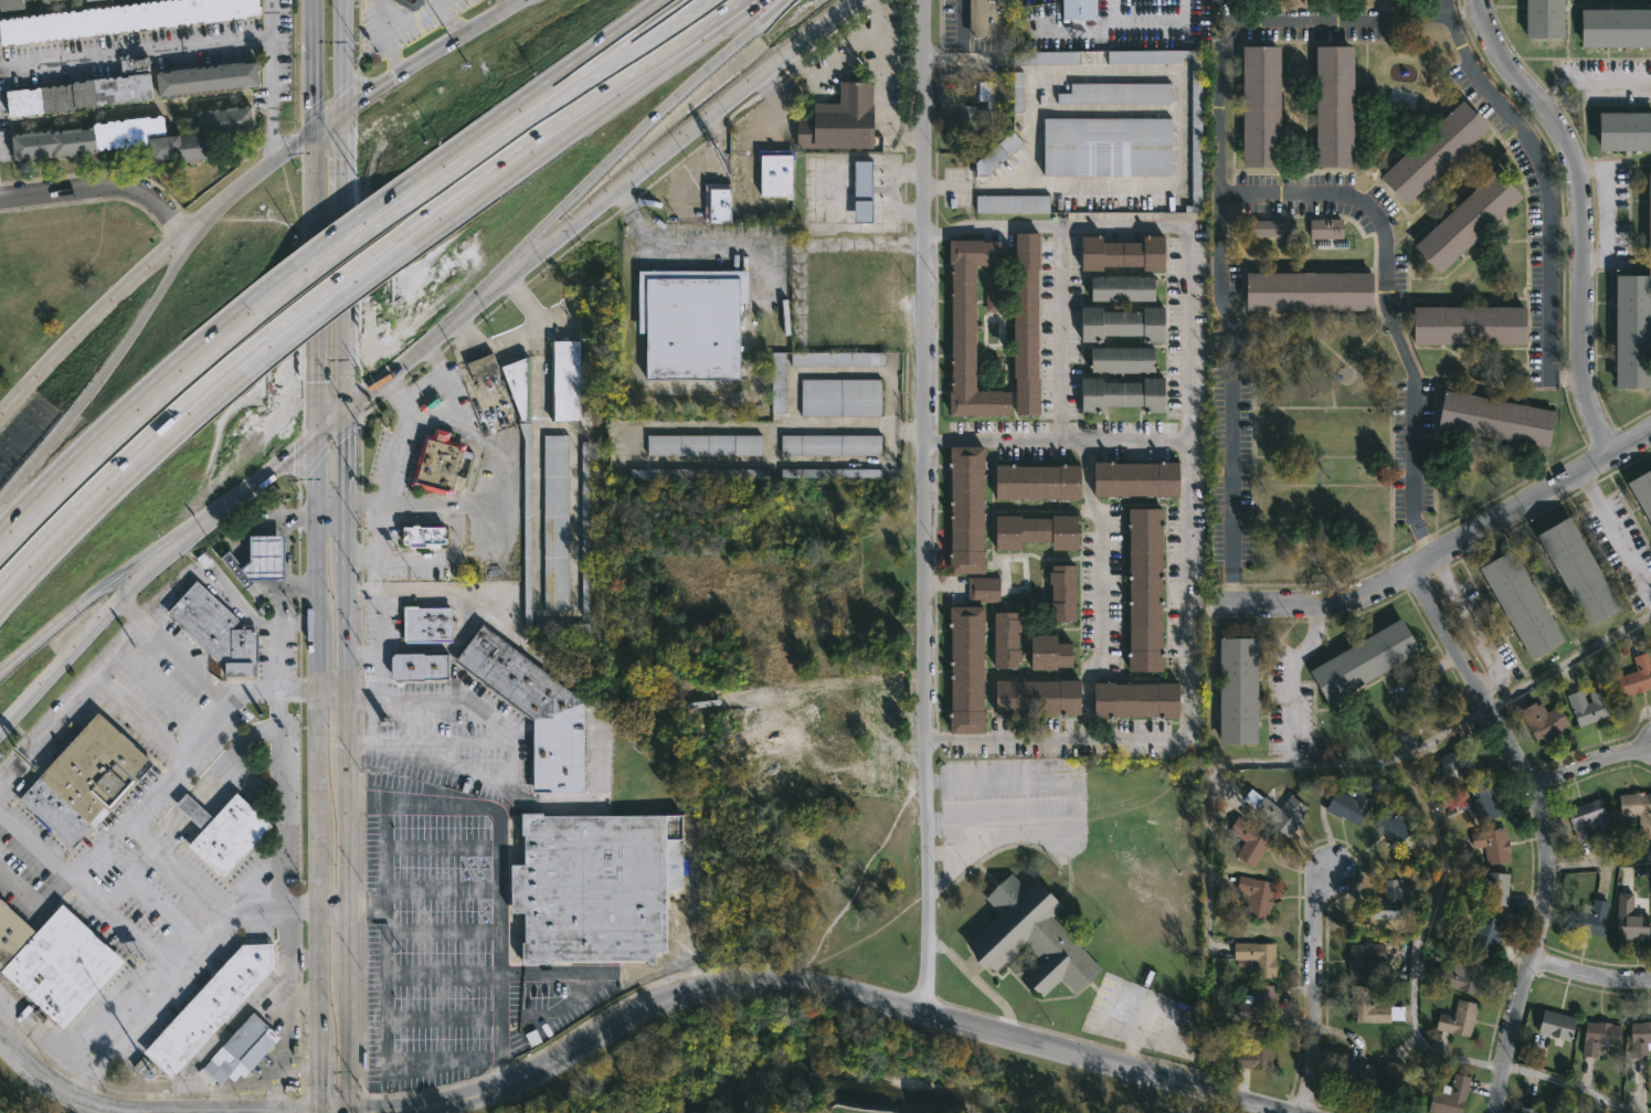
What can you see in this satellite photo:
building: (86, 0)
building: (44, 1)
building: (411, 3)
building: (11, 4)
road: (507, 4)
building: (1081, 9)
road: (691, 10)
building: (119, 18)
road: (494, 18)
building: (991, 18)
building: (1543, 19)
road: (1336, 21)
road: (406, 24)
building: (1613, 26)
road: (959, 46)
road: (152, 49)
road: (631, 51)
road: (634, 55)
road: (340, 57)
road: (391, 57)
building: (1048, 57)
road: (402, 75)
road: (271, 76)
building: (205, 78)
road: (1591, 79)
building: (86, 92)
building: (992, 92)
building: (1020, 92)
building: (1119, 93)
road: (528, 98)
building: (1260, 105)
building: (1329, 105)
traffic signals: (340, 115)
building: (972, 119)
building: (843, 120)
road: (1181, 127)
road: (569, 129)
building: (1621, 130)
building: (204, 131)
traffic signals: (311, 135)
building: (87, 138)
road: (273, 138)
building: (1112, 146)
road: (488, 150)
building: (1198, 150)
building: (1428, 151)
building: (999, 153)
road: (311, 156)
road: (491, 163)
road: (341, 169)
building: (779, 171)
road: (1548, 177)
road: (98, 187)
building: (865, 191)
building: (1015, 203)
building: (722, 205)
road: (1605, 209)
road: (1581, 214)
road: (580, 218)
building: (1461, 220)
building: (1262, 227)
building: (1321, 229)
road: (935, 232)
road: (330, 242)
road: (675, 246)
road: (160, 252)
building: (1123, 252)
road: (172, 257)
road: (330, 265)
road: (329, 284)
road: (1219, 285)
building: (1123, 287)
building: (991, 290)
building: (1308, 290)
road: (1385, 290)
road: (332, 308)
building: (1631, 311)
building: (1027, 321)
building: (1122, 322)
road: (526, 324)
building: (695, 324)
road: (1185, 325)
building: (971, 328)
building: (1467, 328)
road: (1058, 332)
road: (468, 353)
building: (1124, 359)
building: (837, 360)
building: (485, 367)
road: (348, 369)
road: (313, 377)
building: (563, 379)
road: (434, 380)
building: (520, 382)
building: (776, 383)
building: (1123, 393)
road: (88, 394)
building: (844, 397)
road: (129, 405)
traffic signals: (350, 410)
building: (1494, 417)
road: (128, 430)
road: (943, 439)
traffic signals: (313, 441)
road: (1631, 444)
building: (706, 445)
building: (833, 445)
road: (129, 449)
road: (389, 451)
building: (441, 464)
building: (830, 475)
building: (695, 477)
road: (313, 478)
building: (1136, 478)
building: (1038, 481)
building: (1642, 490)
road: (136, 499)
road: (1, 501)
road: (923, 507)
road: (1512, 510)
building: (965, 511)
road: (330, 516)
building: (557, 522)
building: (528, 524)
building: (586, 529)
building: (1036, 531)
building: (423, 534)
road: (1615, 534)
road: (349, 537)
road: (1421, 541)
road: (490, 544)
road: (286, 551)
road: (152, 553)
building: (257, 558)
building: (1577, 570)
road: (311, 571)
road: (145, 572)
building: (978, 587)
road: (1230, 587)
road: (1098, 590)
building: (1145, 591)
building: (1062, 592)
building: (1520, 602)
road: (1319, 611)
road: (131, 613)
road: (349, 624)
road: (293, 625)
building: (430, 625)
road: (1474, 626)
road: (141, 627)
building: (563, 628)
building: (218, 632)
road: (54, 636)
building: (1006, 642)
road: (364, 651)
building: (1049, 653)
road: (313, 657)
road: (380, 657)
road: (1568, 659)
building: (1357, 660)
building: (422, 667)
building: (966, 667)
building: (1633, 677)
road: (1290, 683)
road: (330, 689)
building: (1237, 692)
road: (160, 695)
building: (1028, 696)
building: (1136, 699)
road: (464, 701)
road: (1185, 702)
building: (1585, 708)
building: (537, 711)
road: (139, 718)
road: (597, 718)
building: (1538, 721)
road: (348, 730)
road: (936, 740)
road: (423, 741)
road: (374, 742)
road: (278, 744)
road: (510, 762)
road: (1267, 762)
road: (1588, 762)
road: (315, 763)
building: (1453, 763)
building: (88, 781)
road: (150, 793)
road: (1070, 798)
building: (1347, 805)
building: (1481, 805)
building: (1637, 812)
building: (1273, 813)
building: (1584, 819)
building: (1389, 828)
road: (1542, 828)
building: (222, 830)
road: (348, 837)
building: (1247, 840)
building: (1486, 847)
road: (1598, 863)
road: (500, 869)
building: (1416, 869)
road: (176, 870)
road: (317, 872)
building: (595, 887)
building: (1493, 890)
road: (88, 895)
building: (1253, 895)
road: (360, 904)
road: (332, 905)
road: (34, 907)
building: (1380, 907)
building: (1585, 919)
building: (1628, 921)
building: (1483, 933)
building: (1035, 935)
road: (348, 941)
road: (1415, 956)
building: (1255, 957)
building: (1364, 960)
building: (56, 961)
road: (601, 969)
road: (179, 973)
building: (1458, 973)
road: (1589, 976)
road: (318, 977)
road: (977, 981)
road: (824, 987)
road: (1313, 990)
road: (373, 994)
road: (303, 997)
building: (1255, 1003)
building: (213, 1006)
building: (1368, 1006)
road: (113, 1008)
building: (1454, 1018)
building: (1553, 1024)
road: (43, 1035)
building: (1597, 1036)
building: (1638, 1038)
road: (347, 1045)
building: (244, 1048)
building: (1253, 1051)
road: (303, 1061)
park: (829, 1073)
building: (1355, 1074)
road: (318, 1080)
building: (1397, 1081)
road: (271, 1085)
traffic signals: (318, 1085)
road: (1566, 1085)
building: (1447, 1096)
road: (278, 1099)
road: (218, 1100)
building: (1526, 1110)
road: (138, 1111)
traffic signals: (299, 1112)
traffic signals: (367, 1112)

